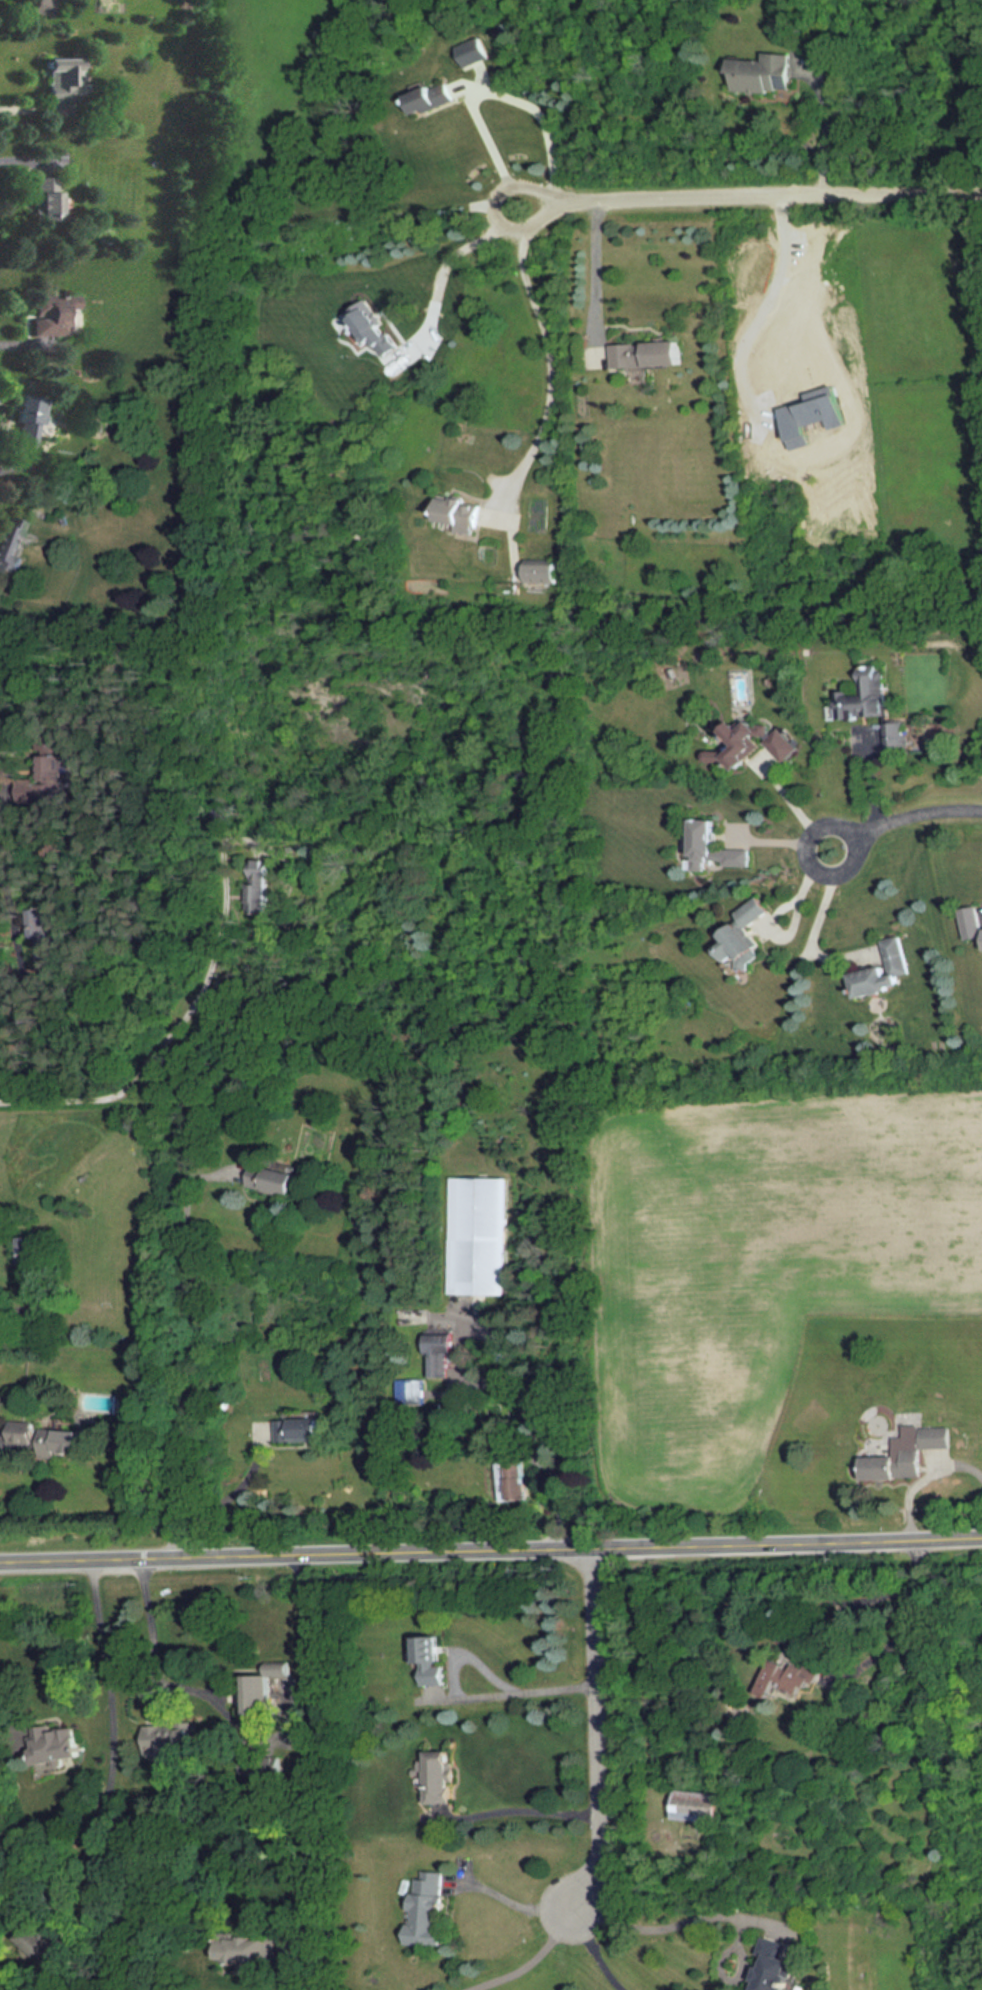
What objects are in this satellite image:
building: (46, 7)
building: (472, 51)
building: (761, 73)
building: (63, 79)
road: (492, 94)
building: (436, 95)
road: (33, 110)
road: (825, 127)
road: (30, 161)
road: (750, 198)
building: (51, 200)
road: (446, 257)
road: (594, 270)
road: (764, 307)
building: (53, 313)
road: (24, 345)
building: (648, 355)
road: (550, 357)
building: (31, 417)
road: (16, 465)
building: (462, 513)
building: (13, 540)
building: (544, 570)
building: (864, 696)
building: (895, 738)
building: (749, 743)
building: (53, 767)
road: (7, 771)
road: (872, 774)
road: (790, 808)
road: (907, 816)
building: (713, 847)
building: (261, 886)
road: (816, 921)
building: (971, 922)
road: (20, 923)
building: (47, 932)
building: (739, 934)
building: (879, 970)
road: (176, 1032)
building: (274, 1180)
building: (479, 1236)
building: (34, 1260)
crop: (756, 1270)
road: (17, 1310)
road: (178, 1352)
building: (440, 1352)
building: (417, 1392)
building: (464, 1408)
building: (300, 1431)
road: (1, 1439)
building: (47, 1439)
road: (539, 1442)
building: (909, 1456)
road: (922, 1475)
building: (514, 1482)
road: (490, 1546)
road: (903, 1625)
road: (156, 1648)
building: (426, 1649)
building: (435, 1677)
building: (780, 1682)
building: (255, 1688)
road: (511, 1694)
road: (153, 1696)
road: (12, 1710)
road: (598, 1727)
building: (165, 1744)
building: (55, 1746)
road: (113, 1748)
road: (325, 1751)
building: (436, 1775)
building: (693, 1805)
road: (517, 1811)
building: (424, 1910)
road: (716, 1913)
building: (240, 1945)
road: (594, 1950)
road: (535, 1957)
building: (767, 1963)

